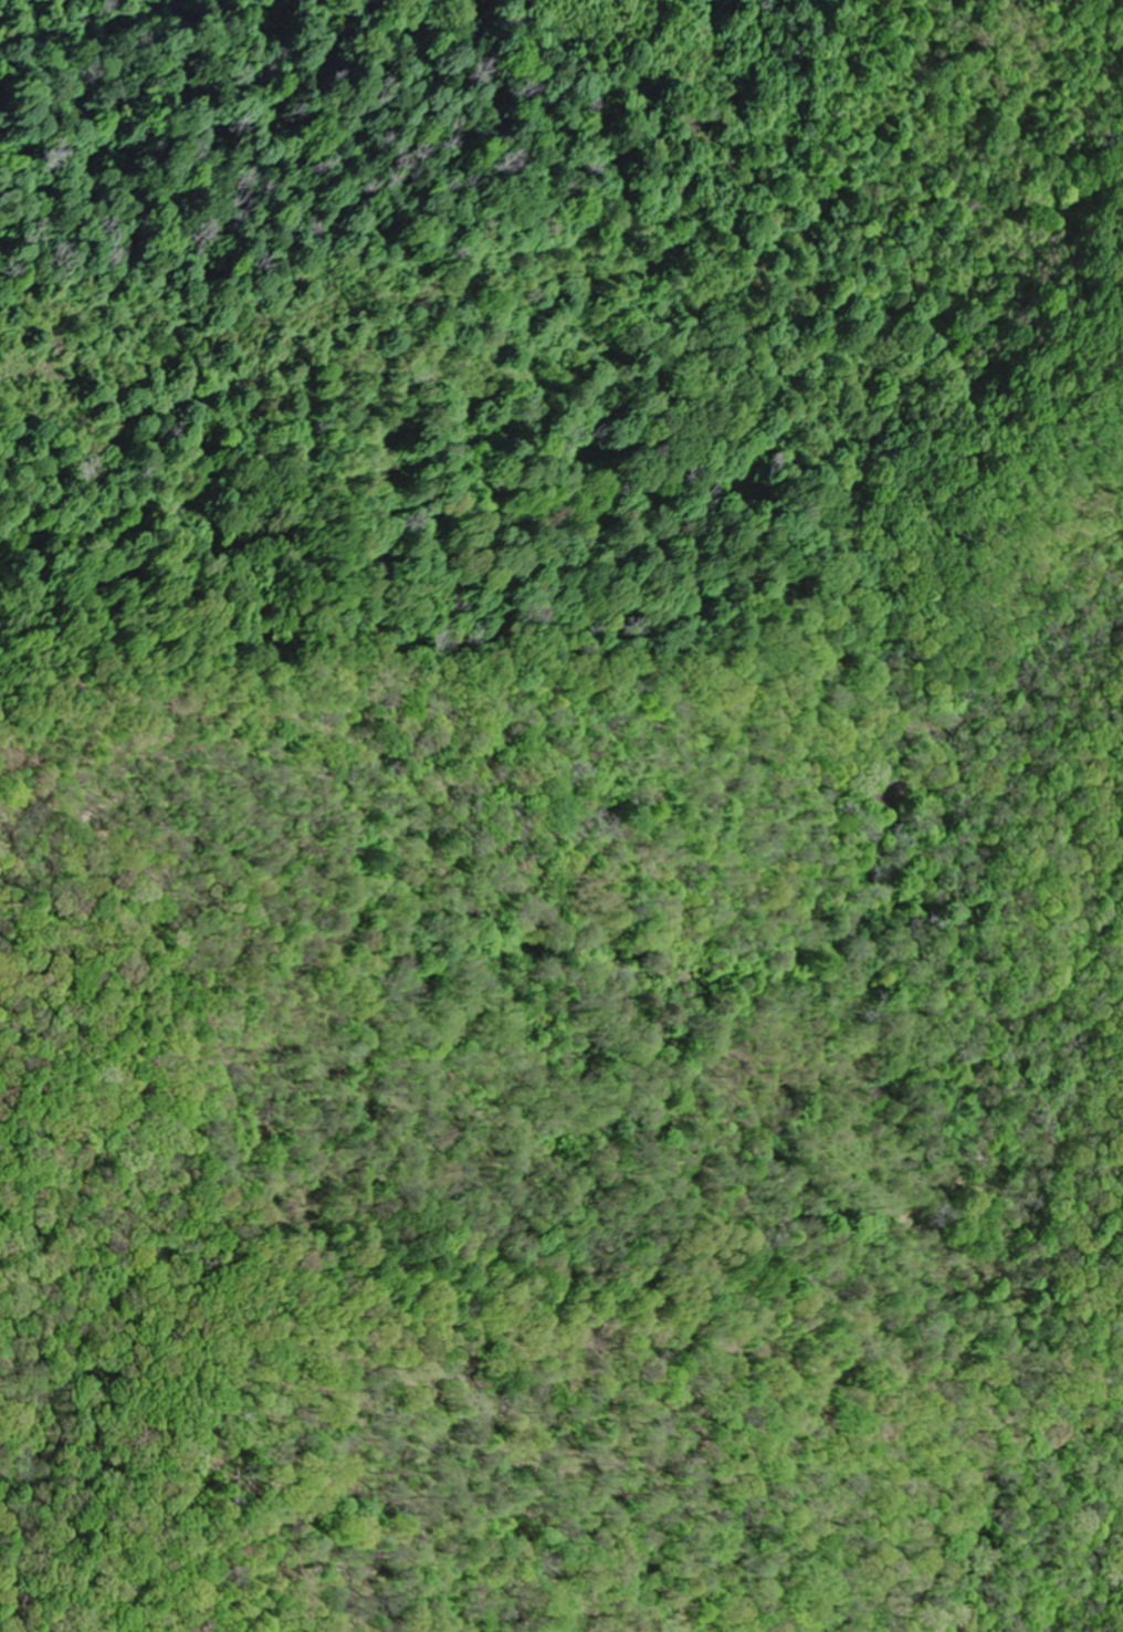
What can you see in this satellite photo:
road: (610, 1004)

